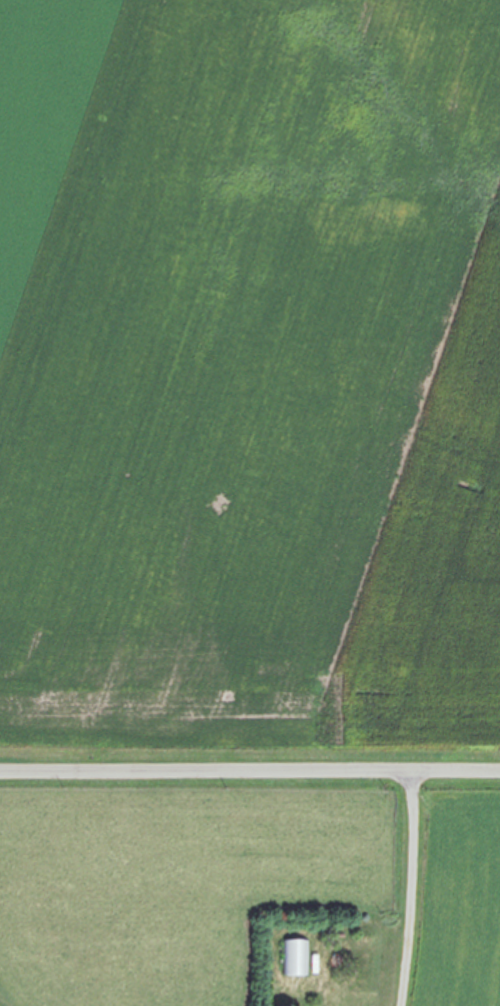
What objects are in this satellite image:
road: (250, 768)
road: (404, 888)
building: (294, 957)

